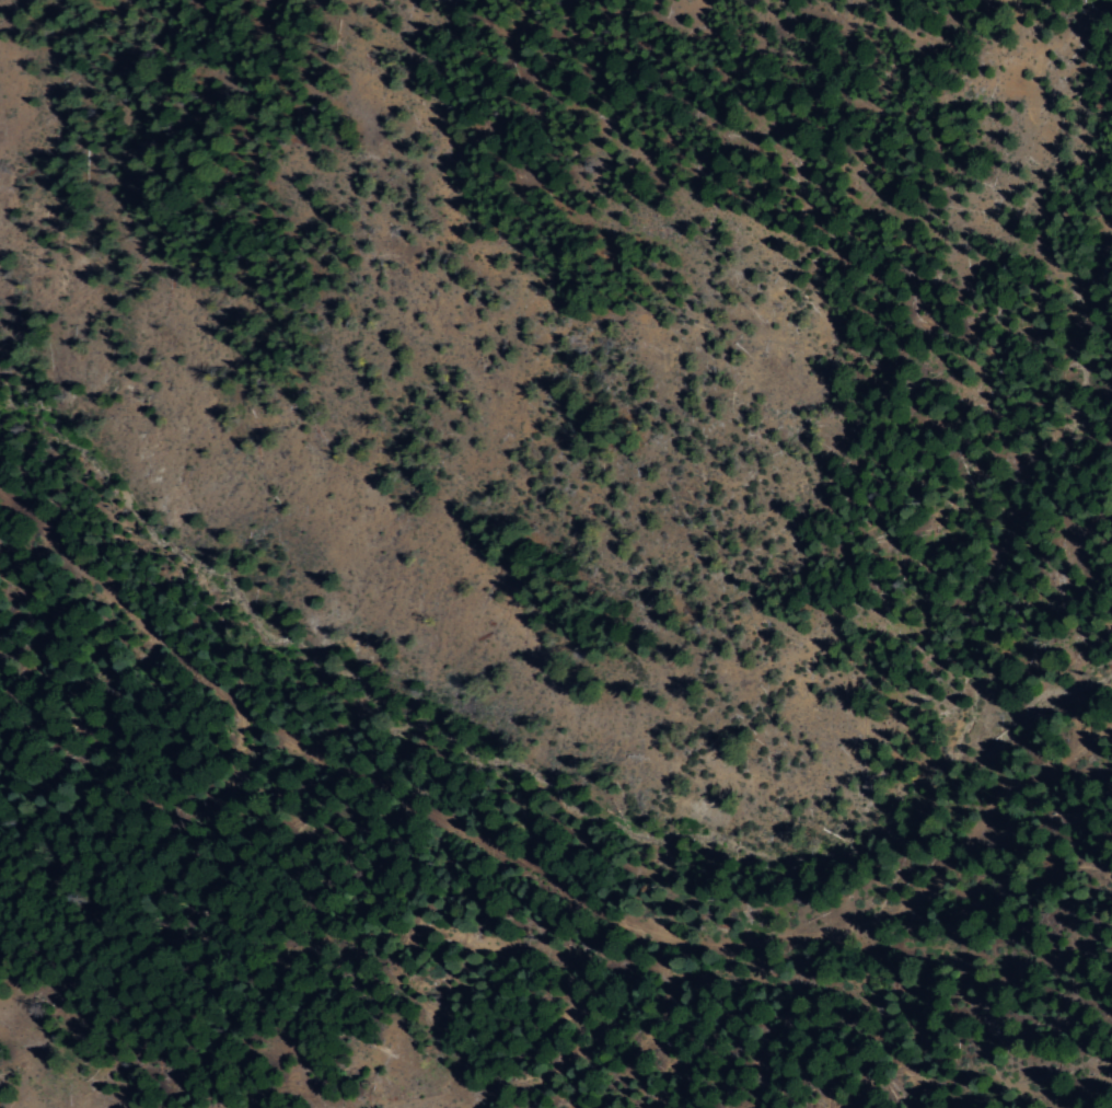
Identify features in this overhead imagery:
road: (529, 868)

